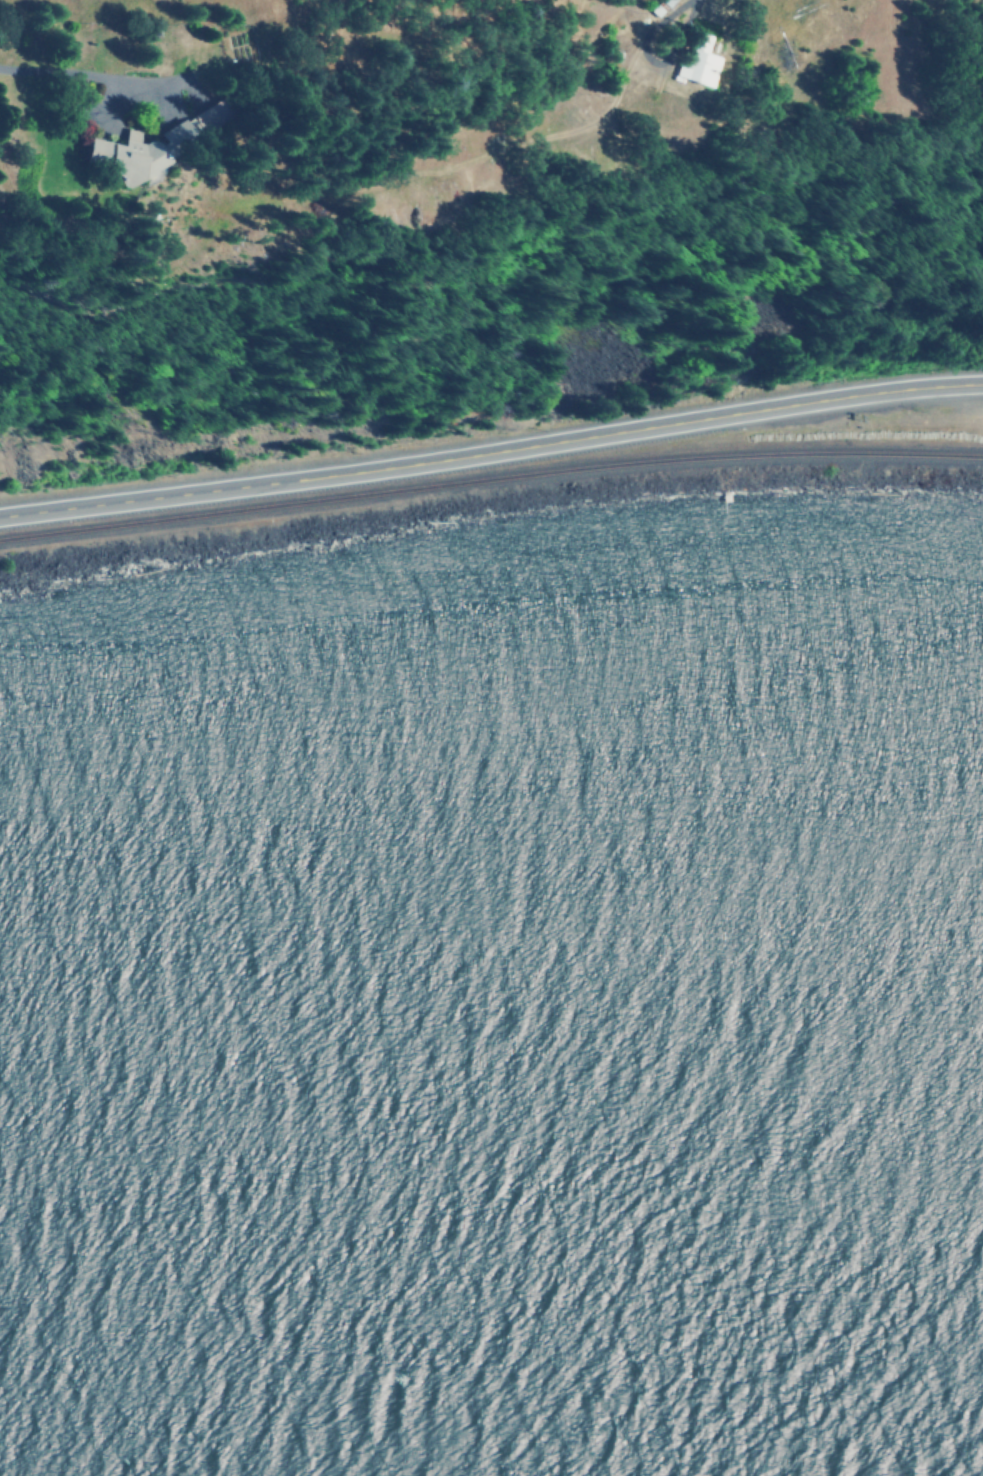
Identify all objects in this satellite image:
building: (700, 63)
building: (208, 115)
building: (134, 151)
road: (491, 450)
railway: (489, 475)

